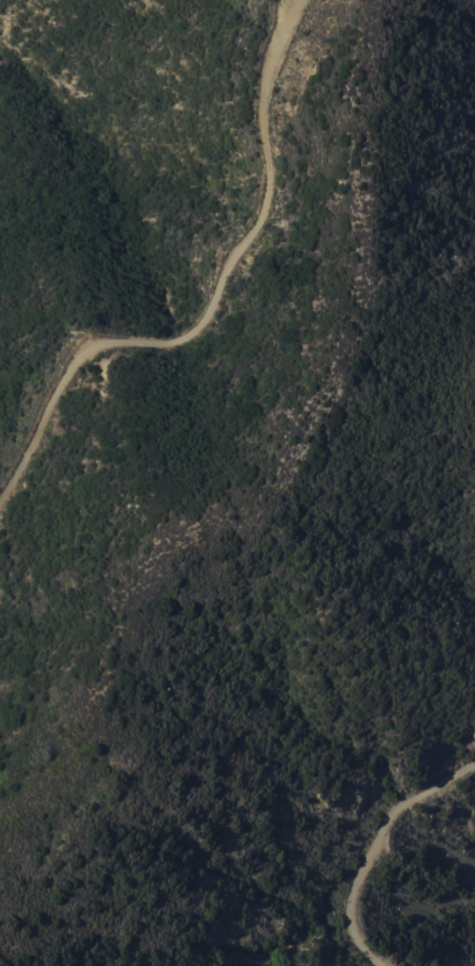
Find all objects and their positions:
road: (213, 297)
road: (373, 845)

